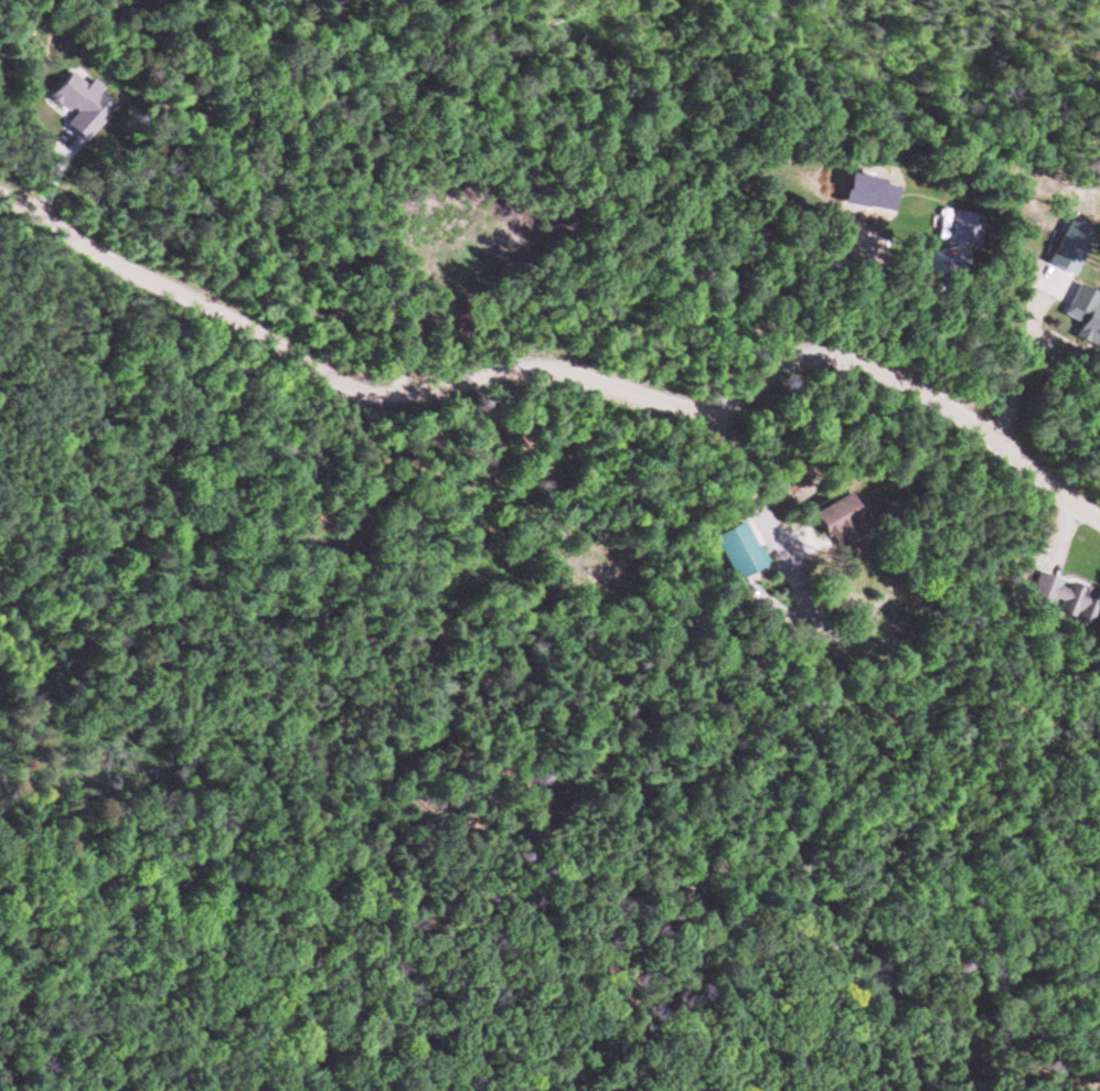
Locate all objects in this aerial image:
building: (68, 95)
road: (552, 372)
building: (1057, 598)

